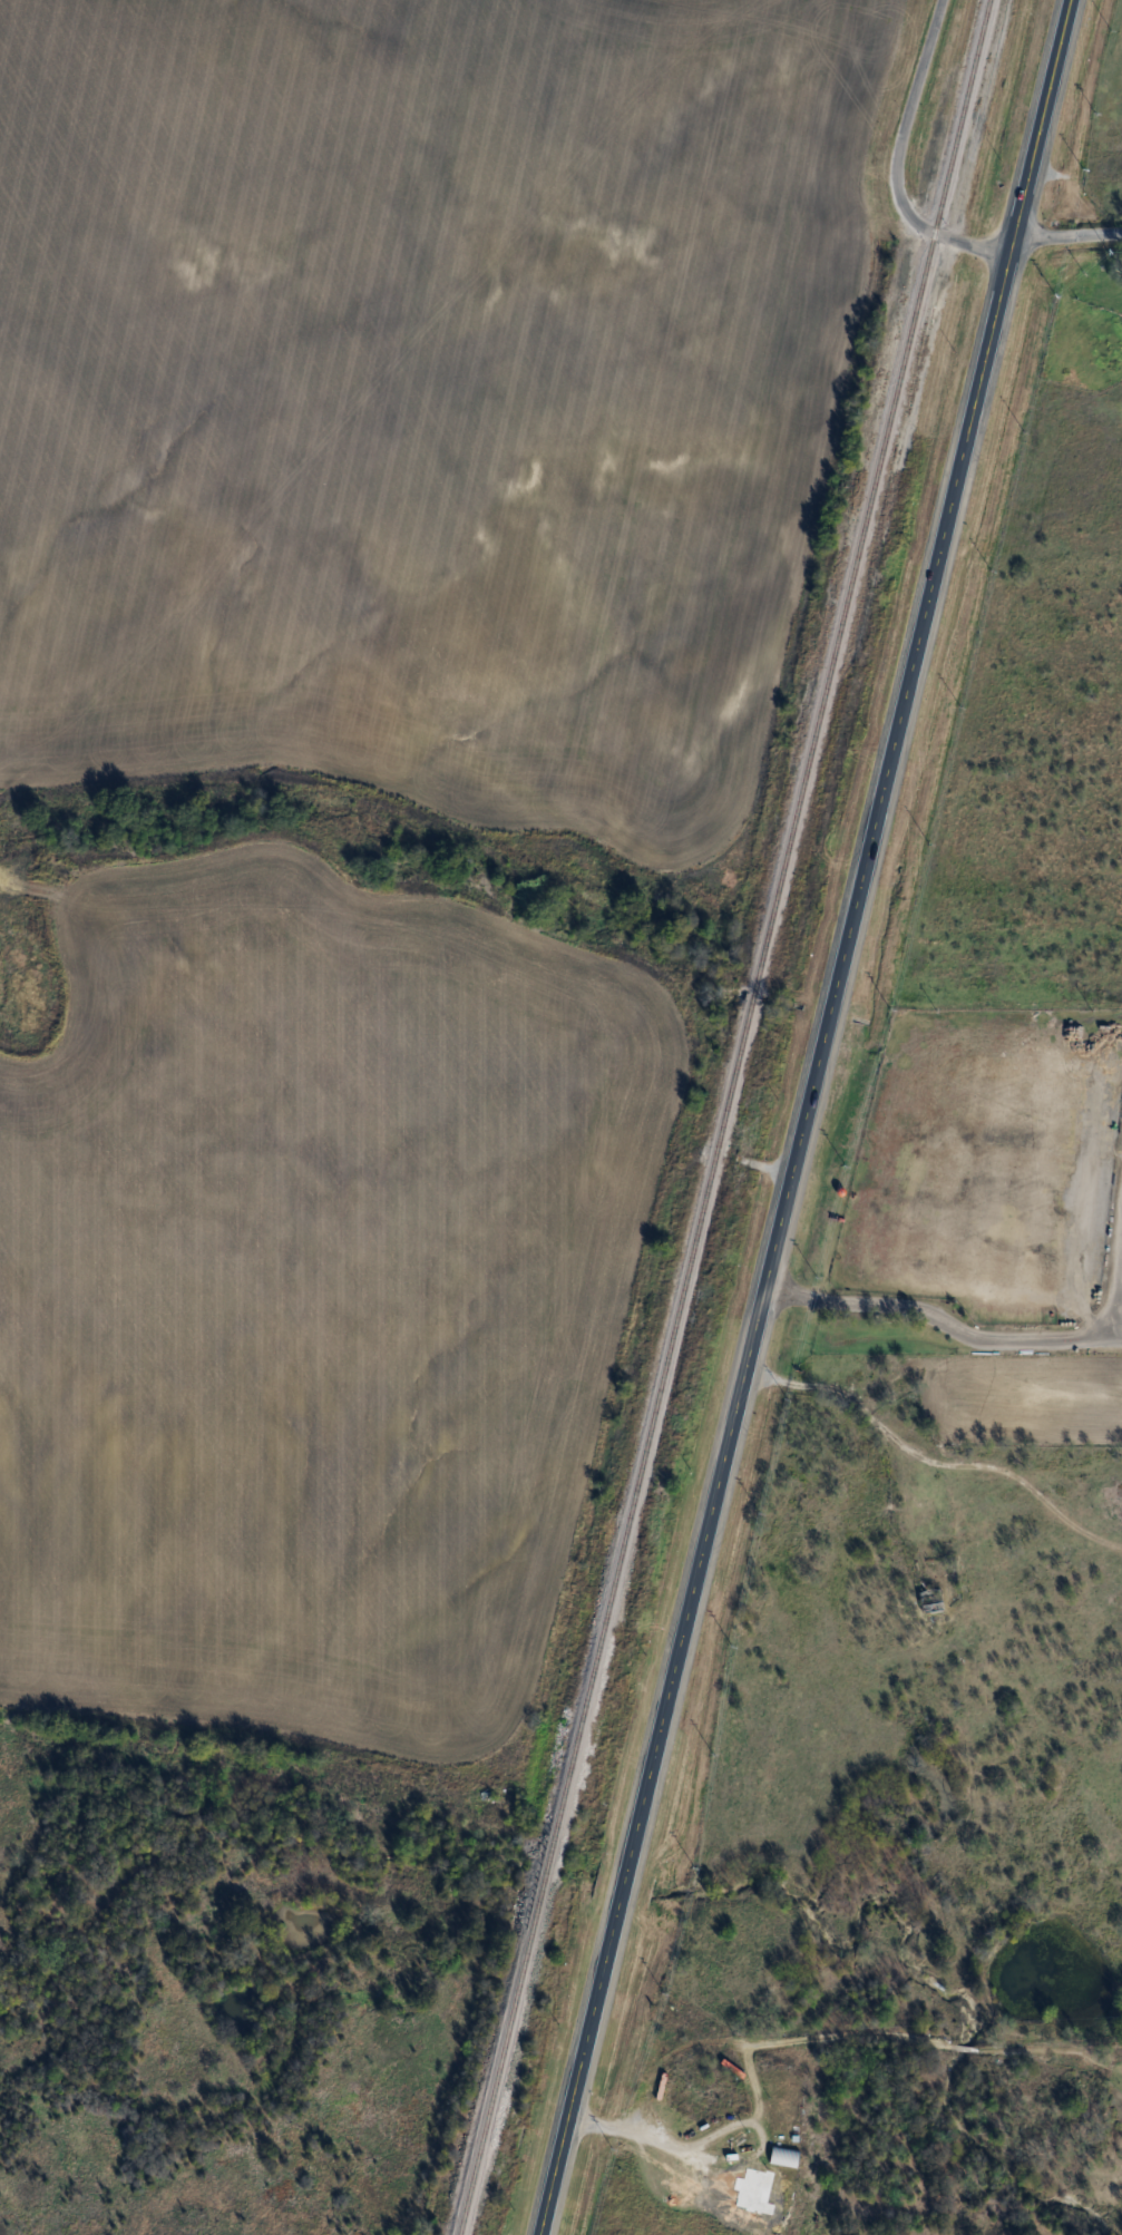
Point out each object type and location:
road: (896, 163)
road: (1067, 235)
railway: (726, 1116)
road: (806, 1116)
road: (725, 1156)
road: (952, 1323)
building: (934, 1600)
road: (962, 2044)
road: (1032, 2046)
road: (751, 2075)
building: (772, 2118)
building: (787, 2157)
building: (761, 2186)

